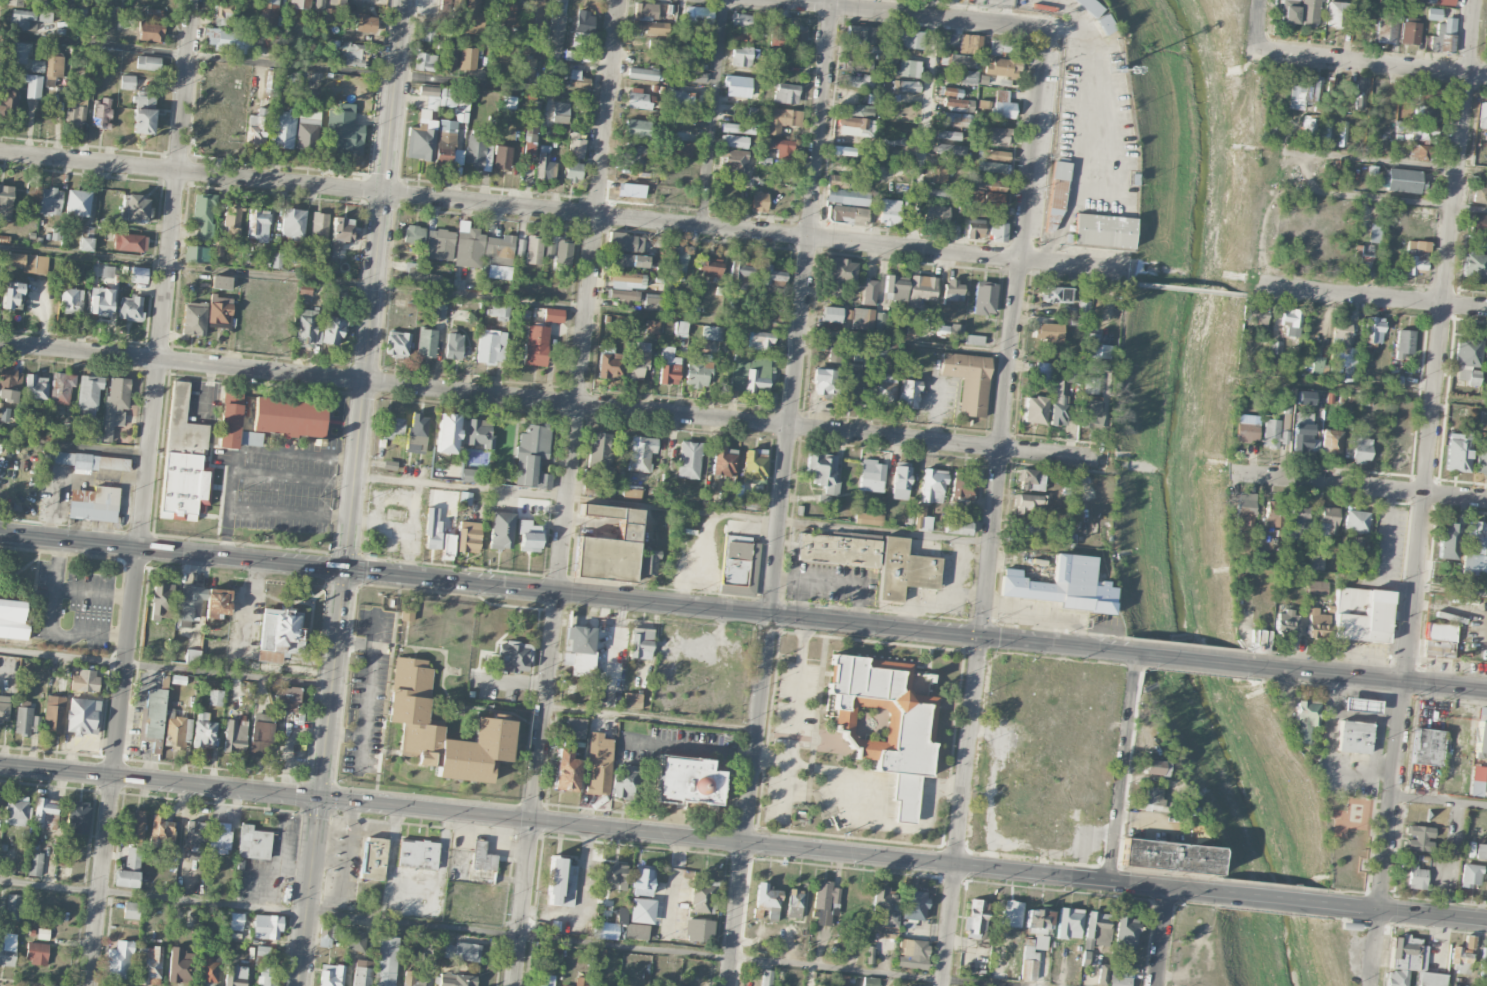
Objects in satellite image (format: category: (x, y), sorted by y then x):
building: (226, 0)
park: (1233, 0)
building: (15, 2)
building: (337, 2)
building: (1292, 2)
building: (1444, 2)
building: (318, 3)
road: (832, 3)
building: (47, 4)
building: (299, 4)
building: (435, 7)
building: (1089, 7)
building: (646, 10)
building: (505, 11)
building: (533, 11)
building: (153, 13)
building: (268, 13)
building: (329, 13)
building: (1309, 13)
road: (907, 14)
building: (1336, 14)
building: (1433, 14)
building: (222, 15)
building: (698, 15)
building: (1290, 15)
building: (45, 16)
building: (474, 16)
building: (83, 18)
building: (23, 19)
building: (740, 20)
building: (366, 25)
road: (1261, 26)
building: (651, 27)
building: (1390, 28)
building: (555, 29)
building: (582, 30)
building: (151, 32)
building: (427, 33)
building: (785, 33)
building: (1409, 33)
building: (861, 34)
building: (1442, 37)
road: (1471, 37)
building: (740, 38)
building: (910, 38)
building: (284, 39)
building: (229, 40)
building: (657, 43)
building: (970, 44)
building: (1004, 47)
building: (18, 52)
building: (354, 54)
building: (571, 55)
building: (451, 56)
building: (743, 56)
building: (468, 58)
building: (962, 60)
building: (148, 62)
building: (425, 62)
building: (695, 63)
road: (1372, 63)
building: (858, 65)
building: (37, 66)
road: (304, 66)
building: (527, 66)
building: (53, 67)
building: (1002, 67)
building: (909, 68)
building: (644, 73)
building: (966, 76)
building: (691, 77)
building: (577, 79)
building: (270, 81)
building: (858, 81)
building: (127, 82)
building: (33, 86)
building: (737, 86)
building: (906, 86)
building: (952, 92)
building: (786, 93)
building: (1302, 94)
building: (1423, 95)
building: (683, 98)
building: (639, 99)
building: (7, 101)
building: (455, 103)
building: (508, 104)
building: (958, 104)
building: (984, 105)
building: (1003, 105)
building: (856, 110)
building: (76, 111)
building: (561, 112)
building: (102, 113)
road: (714, 113)
building: (1425, 113)
building: (144, 114)
building: (1483, 116)
building: (955, 118)
building: (780, 119)
building: (857, 126)
building: (257, 127)
building: (423, 128)
building: (637, 128)
building: (735, 128)
building: (282, 129)
building: (531, 129)
building: (1308, 130)
road: (1142, 131)
building: (1324, 131)
building: (1415, 131)
building: (343, 133)
road: (1095, 133)
road: (927, 134)
building: (948, 134)
building: (1341, 134)
building: (995, 136)
building: (891, 140)
building: (734, 141)
building: (447, 144)
road: (1033, 145)
building: (678, 147)
building: (780, 147)
building: (948, 149)
building: (844, 150)
building: (477, 151)
building: (1422, 152)
building: (995, 154)
building: (502, 157)
building: (574, 157)
building: (636, 158)
building: (733, 160)
building: (765, 160)
road: (1403, 163)
building: (544, 164)
building: (939, 174)
building: (838, 180)
building: (1403, 180)
building: (996, 185)
building: (941, 191)
building: (1480, 194)
building: (847, 196)
building: (1055, 196)
building: (6, 201)
building: (50, 201)
building: (759, 201)
building: (78, 202)
road: (1408, 203)
building: (134, 208)
building: (889, 211)
road: (562, 212)
building: (845, 212)
building: (204, 214)
building: (936, 214)
building: (232, 220)
building: (292, 223)
building: (258, 224)
building: (1478, 224)
building: (319, 228)
building: (975, 228)
building: (1102, 230)
building: (999, 231)
building: (1374, 232)
building: (414, 234)
building: (340, 236)
building: (622, 241)
building: (129, 242)
building: (86, 243)
building: (441, 243)
building: (469, 248)
building: (549, 249)
building: (534, 250)
building: (564, 253)
building: (196, 254)
building: (1362, 255)
building: (498, 256)
building: (1415, 256)
building: (677, 258)
building: (277, 260)
building: (635, 261)
building: (28, 262)
building: (1475, 265)
building: (710, 267)
building: (107, 271)
building: (741, 273)
building: (839, 273)
building: (139, 274)
road: (168, 274)
building: (770, 274)
building: (423, 276)
road: (1129, 277)
building: (627, 280)
building: (221, 282)
road: (376, 284)
building: (896, 288)
road: (1189, 289)
building: (921, 290)
building: (953, 290)
road: (1251, 291)
building: (869, 292)
building: (12, 294)
building: (622, 294)
building: (1056, 294)
road: (1350, 295)
road: (589, 296)
building: (71, 299)
road: (506, 299)
building: (101, 301)
building: (652, 301)
road: (1465, 306)
building: (131, 309)
building: (439, 310)
building: (498, 310)
building: (220, 311)
road: (802, 311)
building: (1256, 314)
building: (553, 315)
building: (850, 317)
building: (194, 318)
building: (1292, 319)
building: (880, 322)
building: (652, 326)
building: (681, 327)
building: (306, 328)
building: (1374, 329)
building: (332, 330)
building: (1051, 332)
building: (712, 333)
building: (760, 340)
building: (1275, 341)
building: (426, 342)
building: (1404, 343)
building: (397, 344)
building: (454, 345)
building: (536, 345)
building: (490, 346)
building: (1097, 347)
building: (1486, 347)
building: (1341, 350)
building: (886, 351)
building: (860, 353)
building: (834, 354)
building: (638, 360)
building: (1468, 360)
building: (1317, 364)
building: (609, 365)
building: (668, 366)
building: (909, 369)
building: (698, 370)
building: (1044, 371)
building: (749, 372)
building: (1072, 373)
road: (1435, 378)
building: (823, 381)
building: (968, 381)
building: (850, 382)
building: (10, 385)
building: (1091, 385)
building: (36, 386)
building: (61, 387)
building: (883, 388)
building: (908, 393)
building: (88, 394)
road: (1394, 395)
building: (1305, 397)
road: (553, 401)
building: (115, 404)
building: (1059, 404)
building: (1036, 410)
building: (1091, 413)
building: (289, 417)
building: (235, 426)
building: (391, 426)
building: (1248, 428)
building: (92, 432)
building: (417, 433)
building: (447, 433)
building: (479, 433)
building: (1273, 433)
building: (1302, 437)
building: (1332, 441)
road: (74, 445)
road: (1003, 448)
building: (1360, 448)
building: (599, 450)
building: (1458, 451)
building: (641, 452)
building: (1481, 456)
building: (532, 457)
building: (689, 459)
building: (87, 461)
building: (184, 461)
building: (724, 461)
building: (754, 465)
building: (823, 471)
building: (468, 475)
building: (872, 476)
road: (232, 477)
road: (294, 477)
building: (1032, 479)
building: (901, 482)
building: (933, 485)
building: (963, 485)
road: (1363, 487)
building: (631, 494)
building: (465, 498)
building: (1029, 503)
building: (94, 504)
building: (1245, 508)
building: (1273, 513)
road: (730, 515)
building: (868, 518)
building: (1298, 518)
building: (1328, 521)
building: (1356, 521)
building: (925, 523)
building: (1028, 526)
building: (957, 527)
building: (501, 530)
building: (433, 532)
building: (469, 536)
building: (528, 536)
building: (1448, 540)
building: (607, 542)
building: (448, 543)
building: (838, 549)
road: (1387, 549)
building: (1475, 551)
road: (172, 552)
building: (1257, 556)
building: (648, 562)
building: (1316, 562)
building: (740, 564)
traffic signals: (345, 569)
building: (904, 570)
road: (385, 573)
road: (847, 585)
building: (1063, 585)
road: (800, 586)
building: (1316, 589)
road: (1451, 589)
road: (94, 592)
building: (162, 601)
building: (217, 602)
building: (189, 604)
road: (704, 607)
building: (1486, 608)
building: (406, 613)
building: (1361, 614)
building: (12, 619)
road: (52, 622)
building: (1286, 623)
building: (1317, 624)
building: (278, 634)
road: (1143, 635)
building: (1439, 639)
road: (1022, 640)
road: (355, 642)
building: (640, 643)
road: (1096, 649)
building: (579, 650)
building: (192, 656)
building: (512, 656)
road: (1195, 659)
road: (165, 668)
building: (84, 679)
building: (178, 679)
road: (1372, 679)
road: (367, 691)
road: (1373, 694)
building: (215, 697)
building: (288, 699)
building: (631, 700)
road: (543, 705)
road: (794, 706)
building: (4, 708)
road: (385, 708)
road: (975, 711)
building: (54, 713)
building: (152, 714)
building: (82, 716)
road: (650, 716)
building: (408, 718)
building: (1304, 719)
building: (23, 721)
building: (884, 722)
building: (576, 727)
road: (758, 729)
building: (175, 730)
building: (204, 730)
building: (261, 734)
building: (1481, 734)
road: (344, 735)
building: (235, 736)
building: (1354, 737)
road: (1379, 737)
road: (691, 744)
building: (1427, 746)
road: (1329, 753)
building: (598, 764)
road: (115, 767)
road: (1121, 767)
building: (1153, 767)
building: (565, 770)
road: (321, 777)
building: (686, 780)
building: (1476, 780)
building: (625, 781)
building: (1152, 795)
road: (1391, 795)
traffic signals: (319, 799)
road: (1439, 801)
building: (16, 810)
building: (44, 812)
building: (78, 817)
road: (878, 825)
building: (134, 826)
building: (161, 828)
road: (607, 828)
building: (220, 837)
building: (1418, 838)
building: (195, 839)
building: (253, 842)
building: (1481, 851)
building: (418, 854)
building: (1170, 856)
building: (482, 857)
building: (373, 858)
building: (35, 864)
building: (129, 869)
building: (1471, 875)
building: (614, 876)
building: (1417, 877)
building: (561, 882)
building: (642, 882)
road: (954, 887)
building: (825, 895)
building: (703, 896)
road: (1274, 898)
building: (766, 901)
road: (521, 903)
building: (794, 903)
building: (915, 905)
building: (13, 907)
building: (131, 910)
building: (642, 910)
road: (1410, 911)
building: (884, 913)
road: (735, 914)
building: (621, 915)
building: (1007, 918)
building: (236, 921)
building: (1038, 921)
building: (1069, 923)
building: (267, 926)
building: (1096, 929)
building: (605, 930)
building: (699, 930)
building: (1125, 932)
building: (43, 933)
road: (511, 933)
building: (327, 934)
road: (1161, 936)
building: (356, 940)
road: (1372, 947)
building: (8, 950)
building: (461, 951)
building: (37, 953)
building: (913, 953)
building: (262, 955)
building: (1032, 956)
building: (1462, 956)
building: (1403, 958)
building: (118, 960)
building: (386, 961)
building: (178, 965)
building: (208, 967)
building: (1483, 968)
building: (362, 972)
building: (1102, 974)
building: (235, 975)
building: (331, 975)
building: (266, 977)
building: (766, 977)
building: (411, 979)
building: (456, 979)
building: (1432, 979)
building: (546, 980)
building: (842, 980)
building: (870, 981)
building: (1119, 981)
building: (566, 985)

